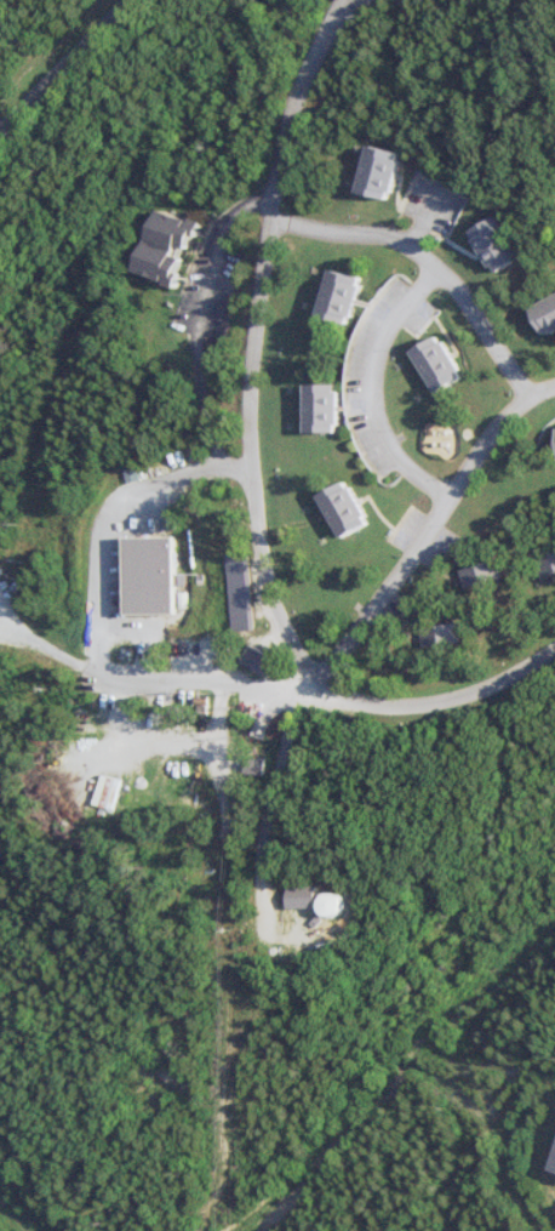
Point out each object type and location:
building: (5, 27)
road: (70, 70)
building: (382, 170)
road: (238, 216)
building: (503, 244)
building: (177, 246)
road: (433, 262)
road: (204, 285)
road: (267, 285)
building: (347, 295)
building: (550, 310)
building: (445, 363)
road: (382, 388)
building: (330, 406)
road: (202, 411)
building: (354, 508)
road: (434, 525)
building: (487, 572)
building: (155, 574)
building: (247, 591)
building: (446, 634)
road: (99, 636)
road: (160, 674)
road: (388, 701)
building: (311, 896)
building: (347, 904)

